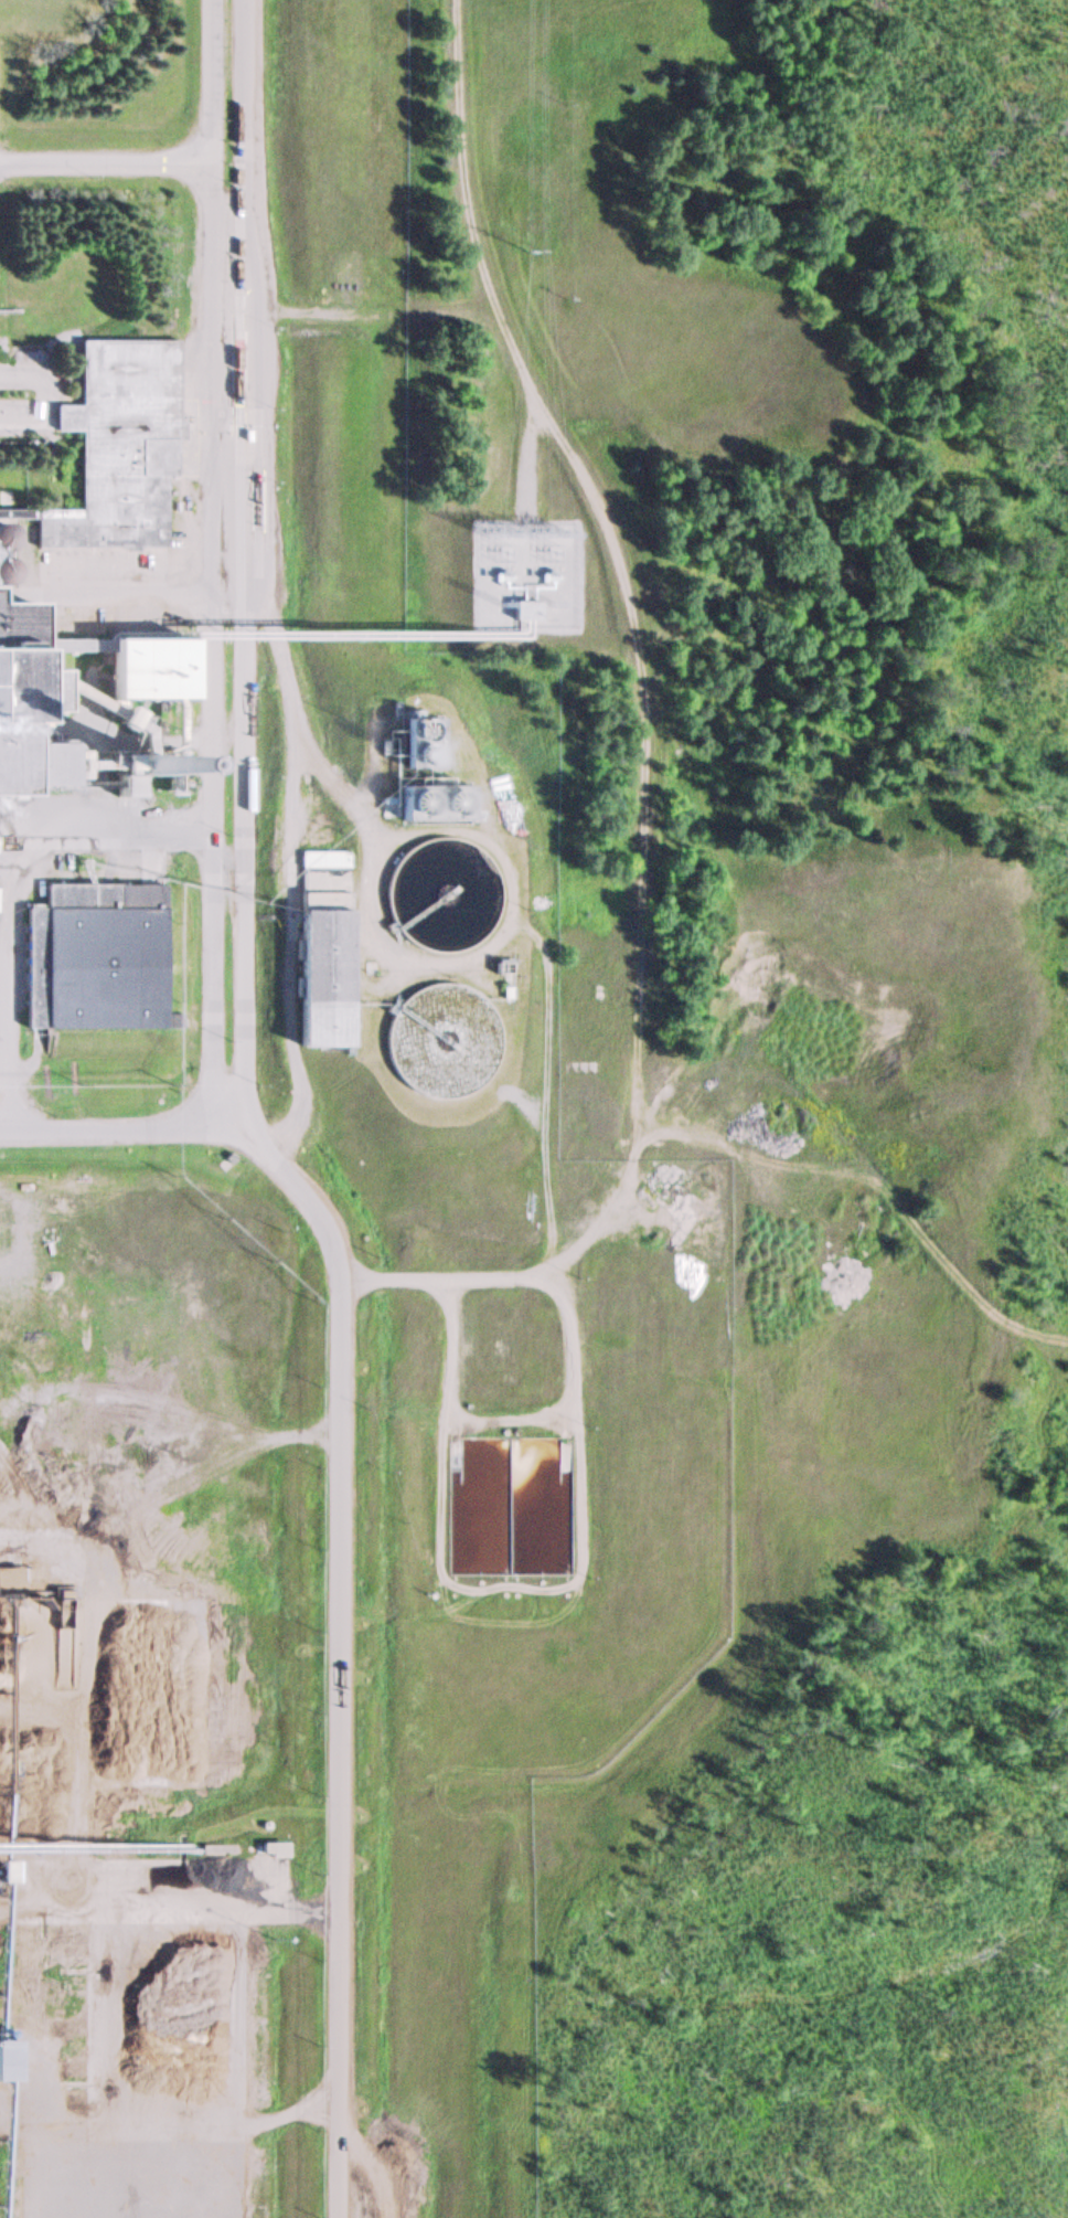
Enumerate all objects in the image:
road: (106, 163)
power tower: (521, 246)
road: (45, 393)
building: (117, 444)
building: (17, 513)
road: (216, 565)
road: (248, 565)
power substation: (528, 576)
road: (631, 586)
building: (519, 611)
building: (64, 644)
building: (26, 668)
building: (142, 669)
building: (413, 741)
chimney: (163, 762)
building: (23, 763)
building: (423, 804)
wastewater plant: (447, 894)
building: (434, 896)
building: (325, 945)
building: (97, 953)
building: (426, 1038)
wastewater plant: (446, 1039)
building: (18, 1199)
building: (17, 1233)
road: (342, 1532)
building: (8, 1581)
building: (4, 1870)
building: (7, 2060)

